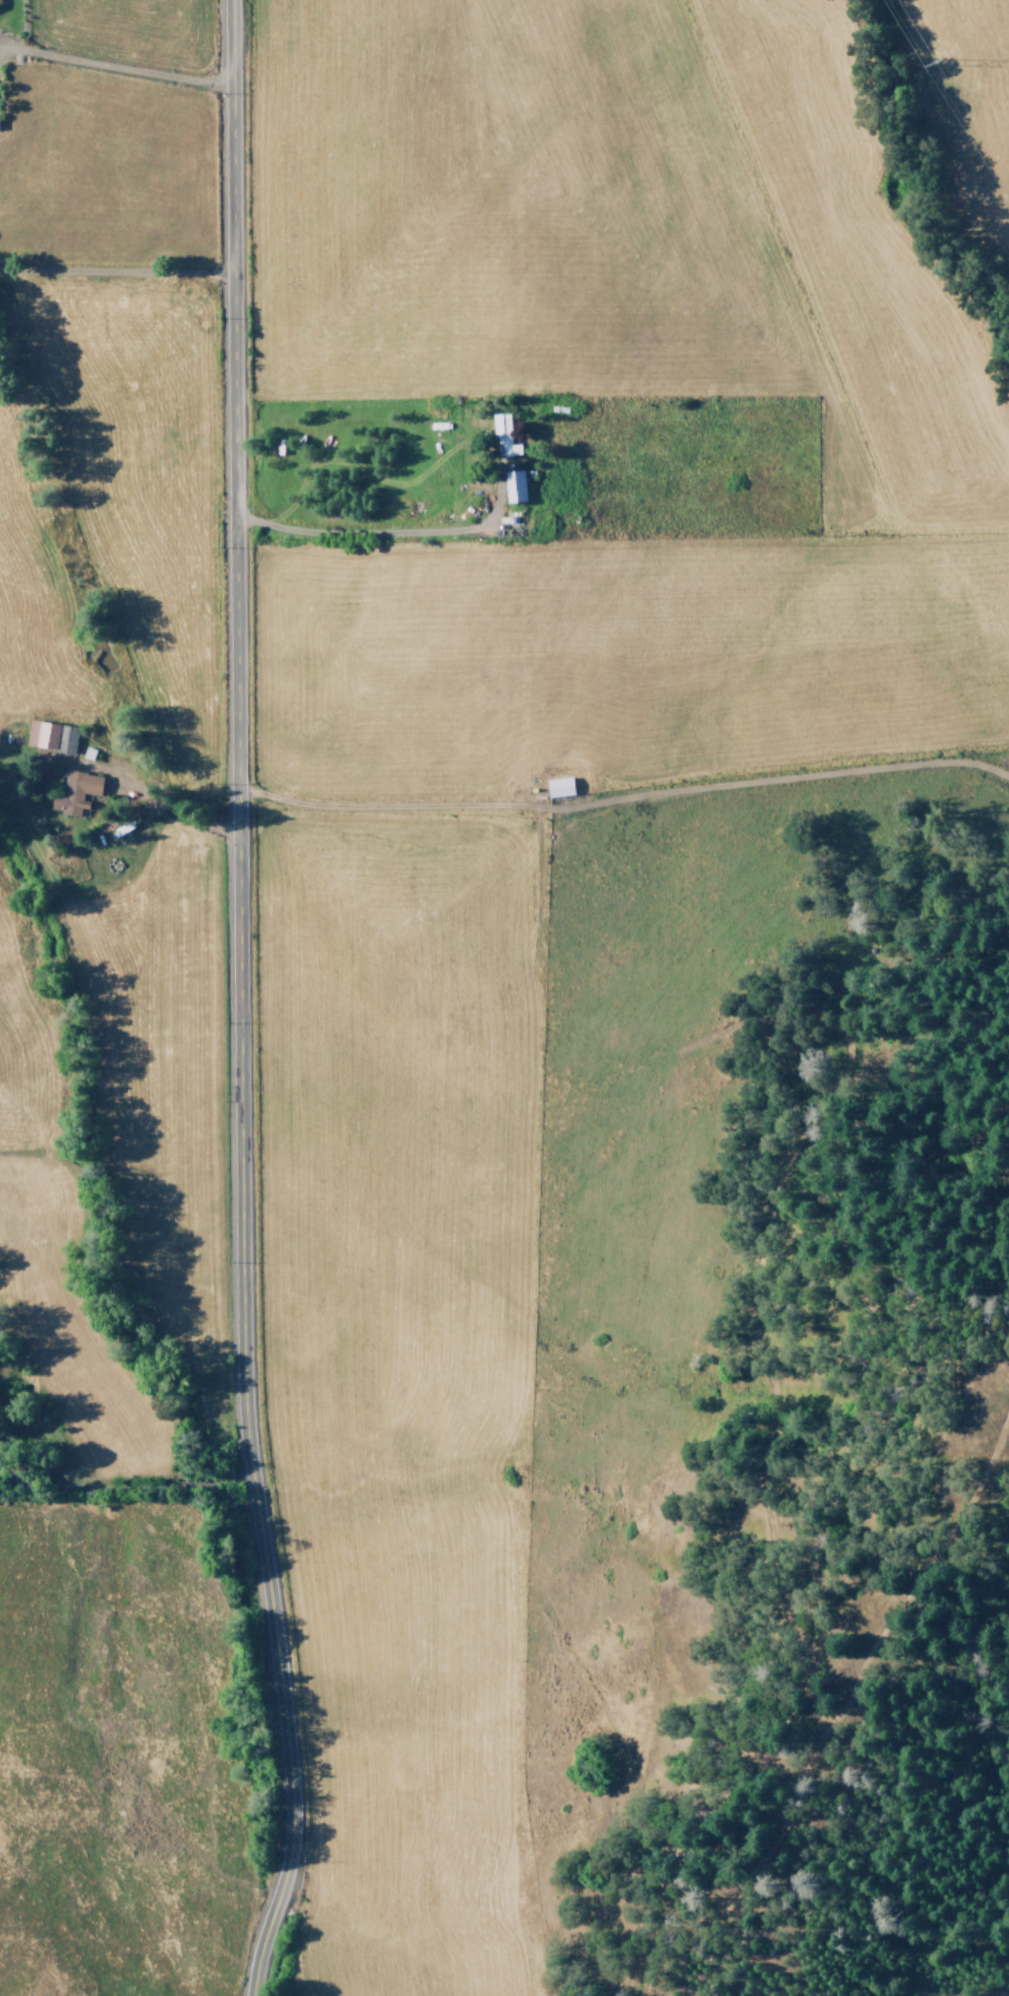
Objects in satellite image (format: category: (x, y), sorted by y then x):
building: (0, 0)
power tower: (933, 65)
building: (504, 437)
building: (514, 487)
building: (51, 736)
building: (559, 787)
building: (74, 791)
road: (233, 1001)

